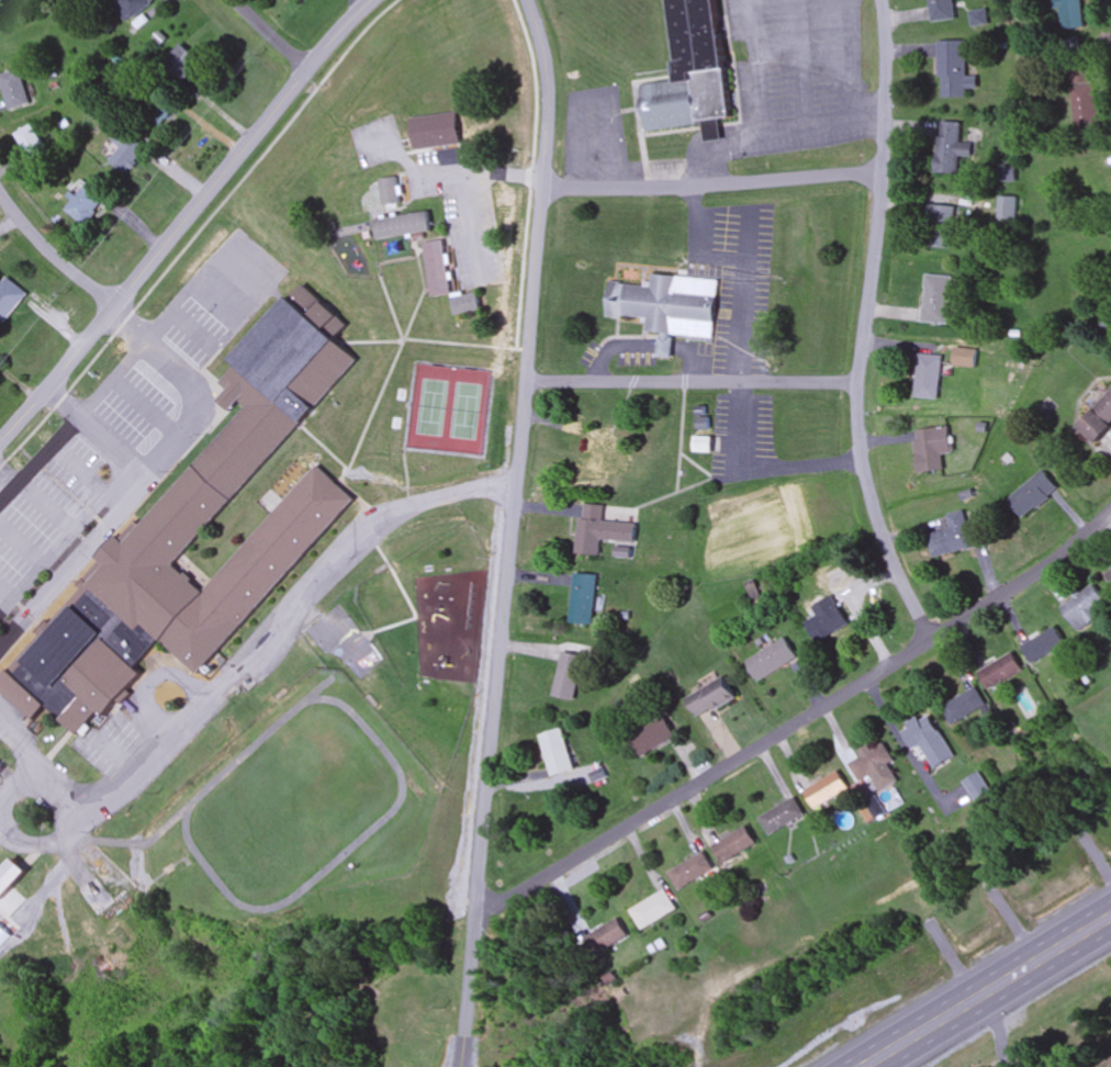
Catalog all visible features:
building: (130, 8)
building: (942, 10)
building: (1073, 14)
building: (978, 18)
road: (270, 35)
road: (797, 53)
road: (844, 58)
road: (796, 63)
building: (181, 65)
road: (753, 66)
building: (955, 70)
building: (691, 71)
building: (11, 89)
road: (588, 97)
building: (1085, 98)
building: (434, 131)
road: (775, 131)
road: (699, 135)
building: (29, 142)
building: (950, 148)
building: (125, 150)
building: (1097, 178)
road: (711, 187)
building: (389, 191)
building: (83, 203)
building: (1006, 209)
road: (184, 217)
building: (401, 226)
building: (938, 227)
road: (694, 246)
road: (52, 252)
building: (436, 269)
road: (187, 291)
road: (742, 293)
building: (9, 299)
building: (935, 300)
building: (669, 303)
building: (464, 304)
road: (862, 327)
road: (643, 346)
building: (927, 377)
road: (691, 382)
building: (274, 384)
road: (186, 386)
road: (59, 402)
parking lot: (125, 402)
road: (144, 408)
park: (447, 408)
building: (1099, 420)
road: (742, 426)
road: (110, 447)
building: (931, 449)
building: (598, 456)
road: (37, 457)
road: (799, 463)
road: (78, 467)
road: (4, 483)
building: (1032, 494)
road: (45, 503)
building: (599, 530)
road: (508, 531)
road: (65, 536)
building: (957, 536)
road: (20, 546)
road: (72, 561)
building: (141, 573)
building: (1109, 574)
road: (4, 592)
building: (582, 599)
building: (1081, 608)
building: (826, 620)
building: (1043, 645)
building: (771, 660)
building: (87, 662)
building: (999, 671)
road: (237, 674)
building: (566, 677)
building: (21, 696)
building: (710, 698)
building: (963, 706)
road: (798, 722)
building: (651, 738)
building: (927, 741)
building: (555, 753)
building: (874, 766)
building: (0, 768)
building: (0, 771)
road: (19, 783)
building: (976, 786)
track: (203, 789)
building: (826, 790)
building: (782, 817)
road: (31, 839)
road: (106, 841)
building: (734, 845)
building: (693, 872)
building: (10, 878)
road: (49, 883)
building: (96, 897)
building: (654, 909)
building: (604, 939)
road: (989, 992)

